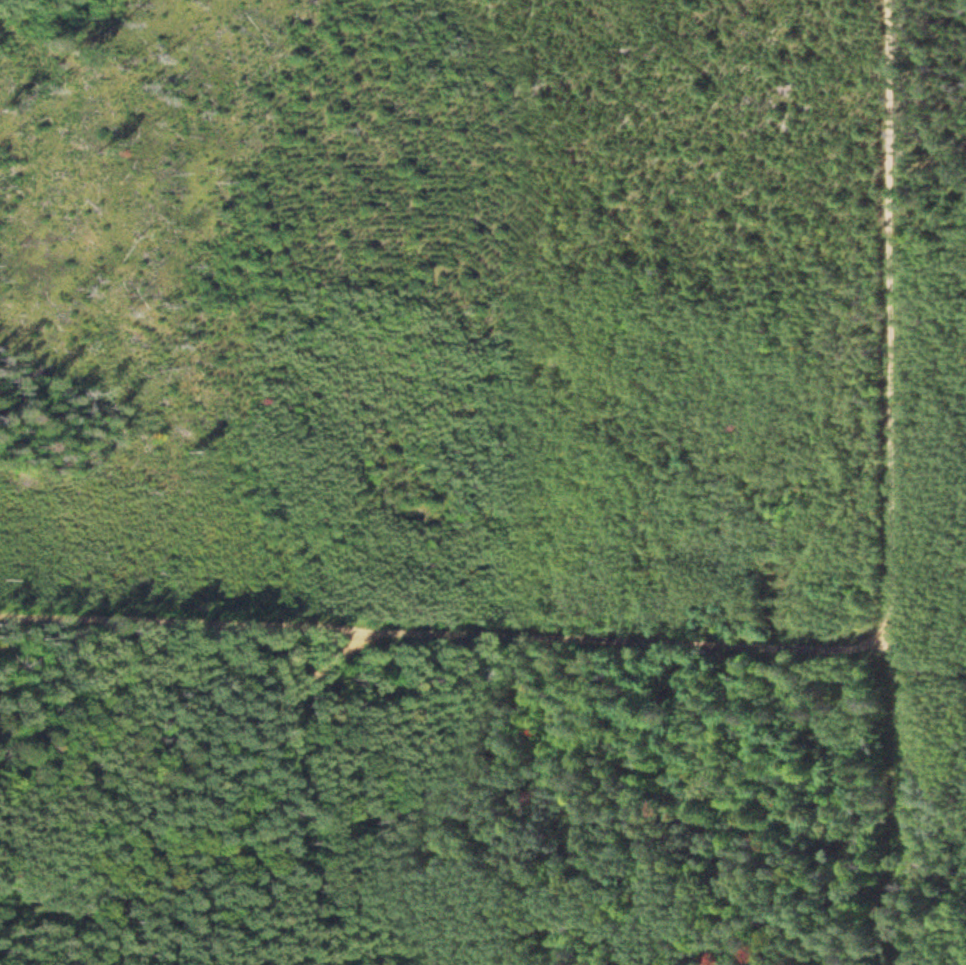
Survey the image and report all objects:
road: (904, 482)
road: (453, 632)

